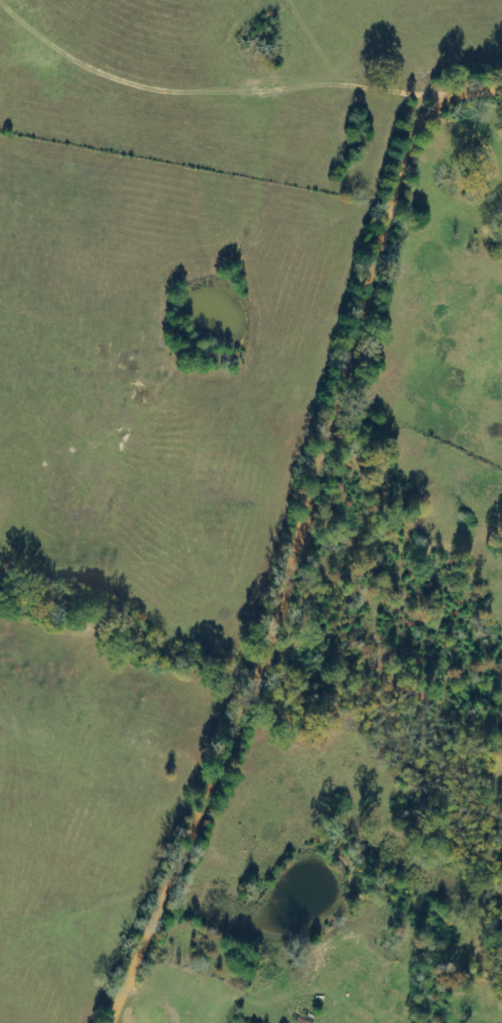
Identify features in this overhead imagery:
road: (309, 537)

